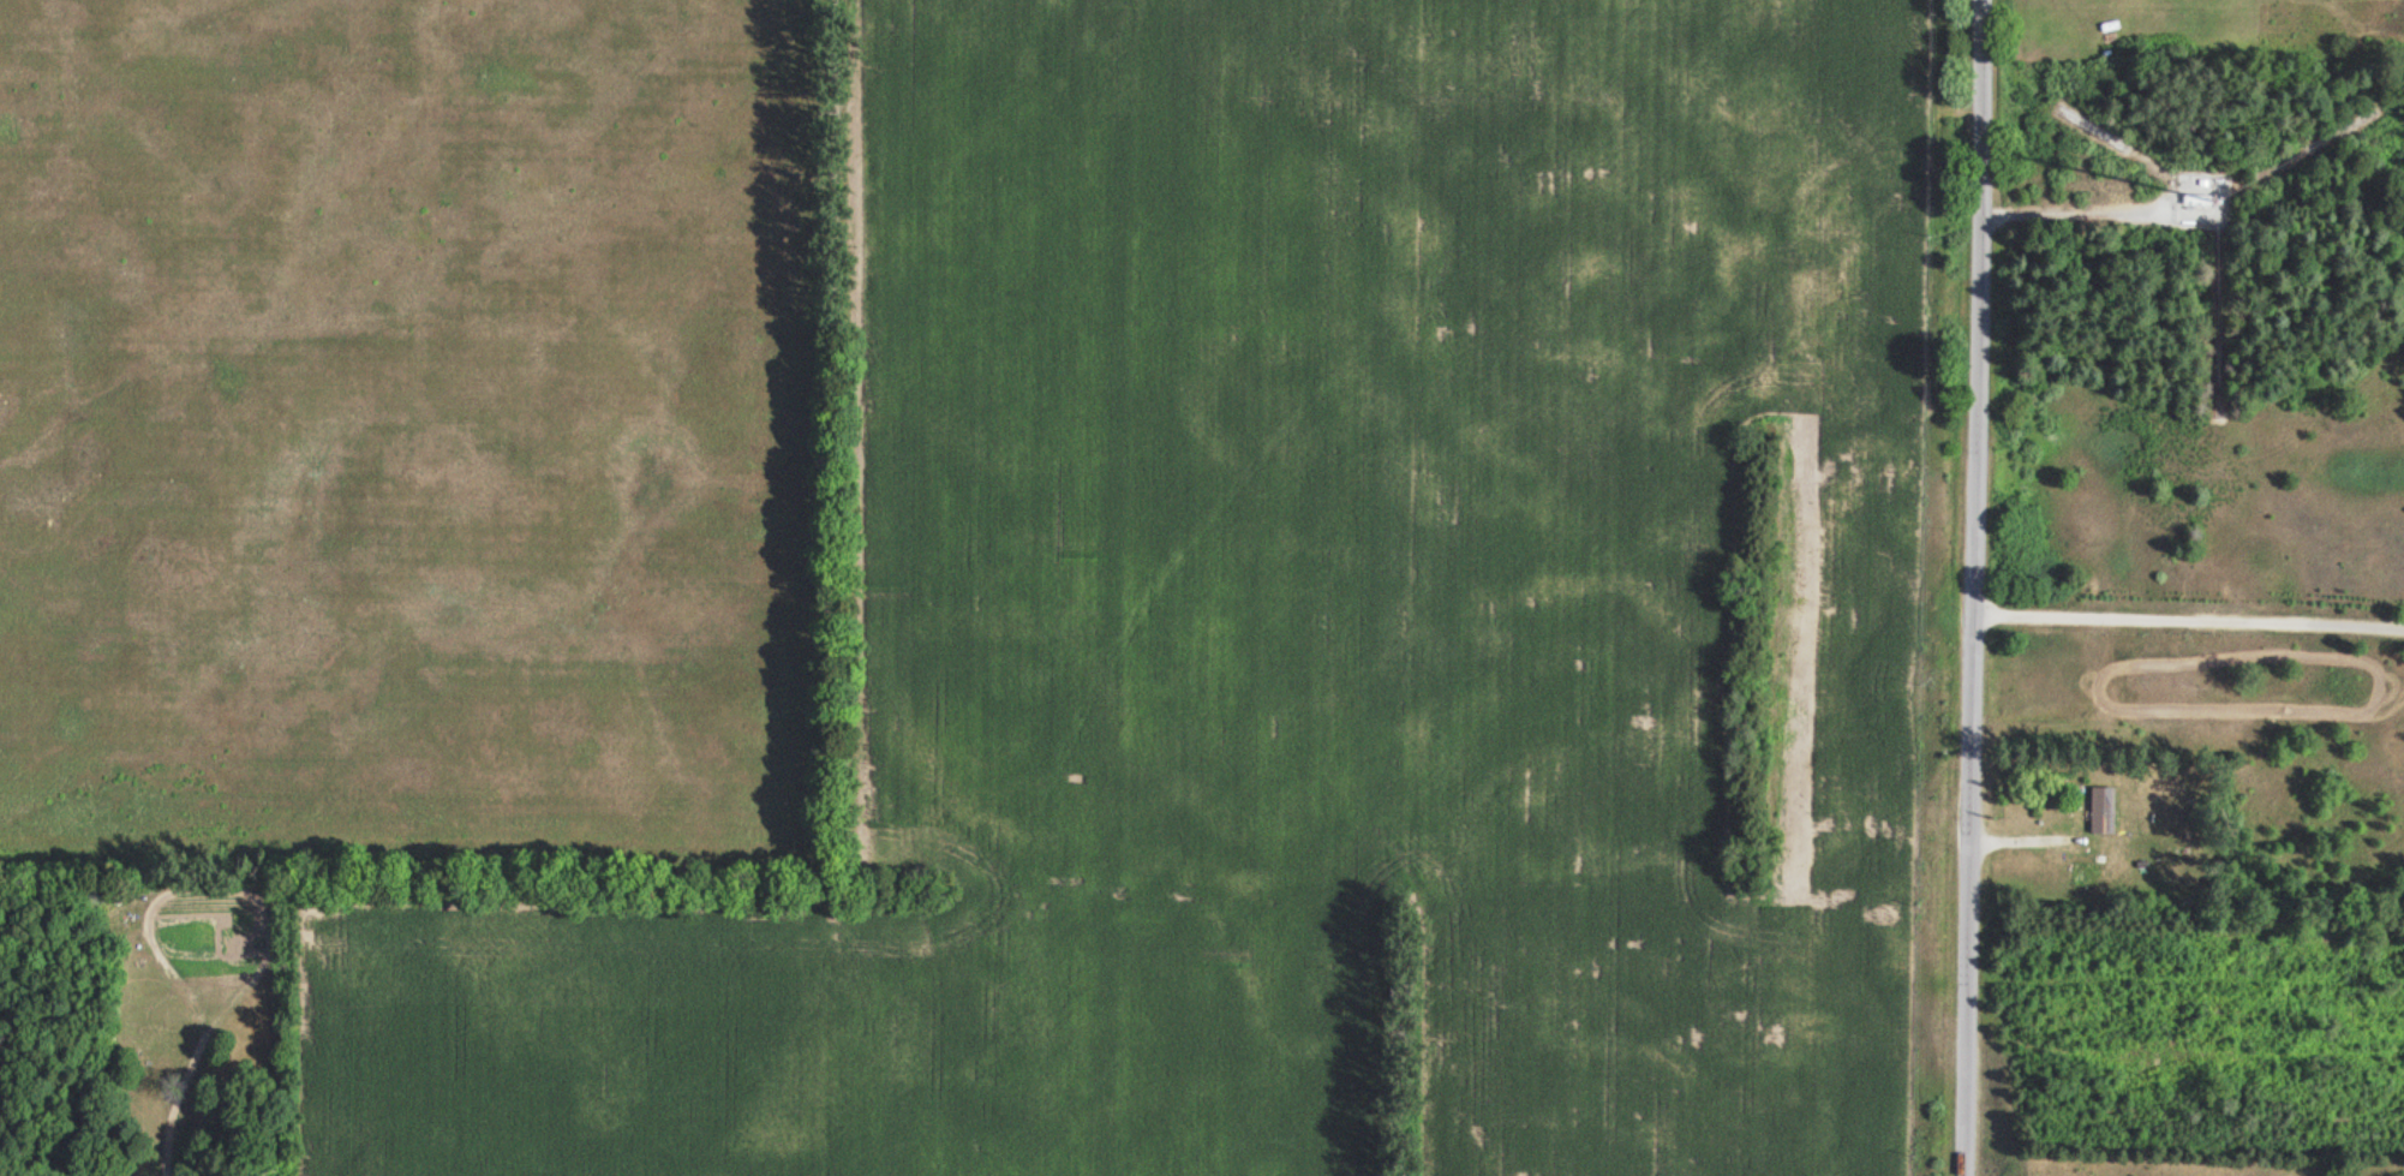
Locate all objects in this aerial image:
road: (1966, 587)
building: (2160, 680)
building: (2099, 812)

